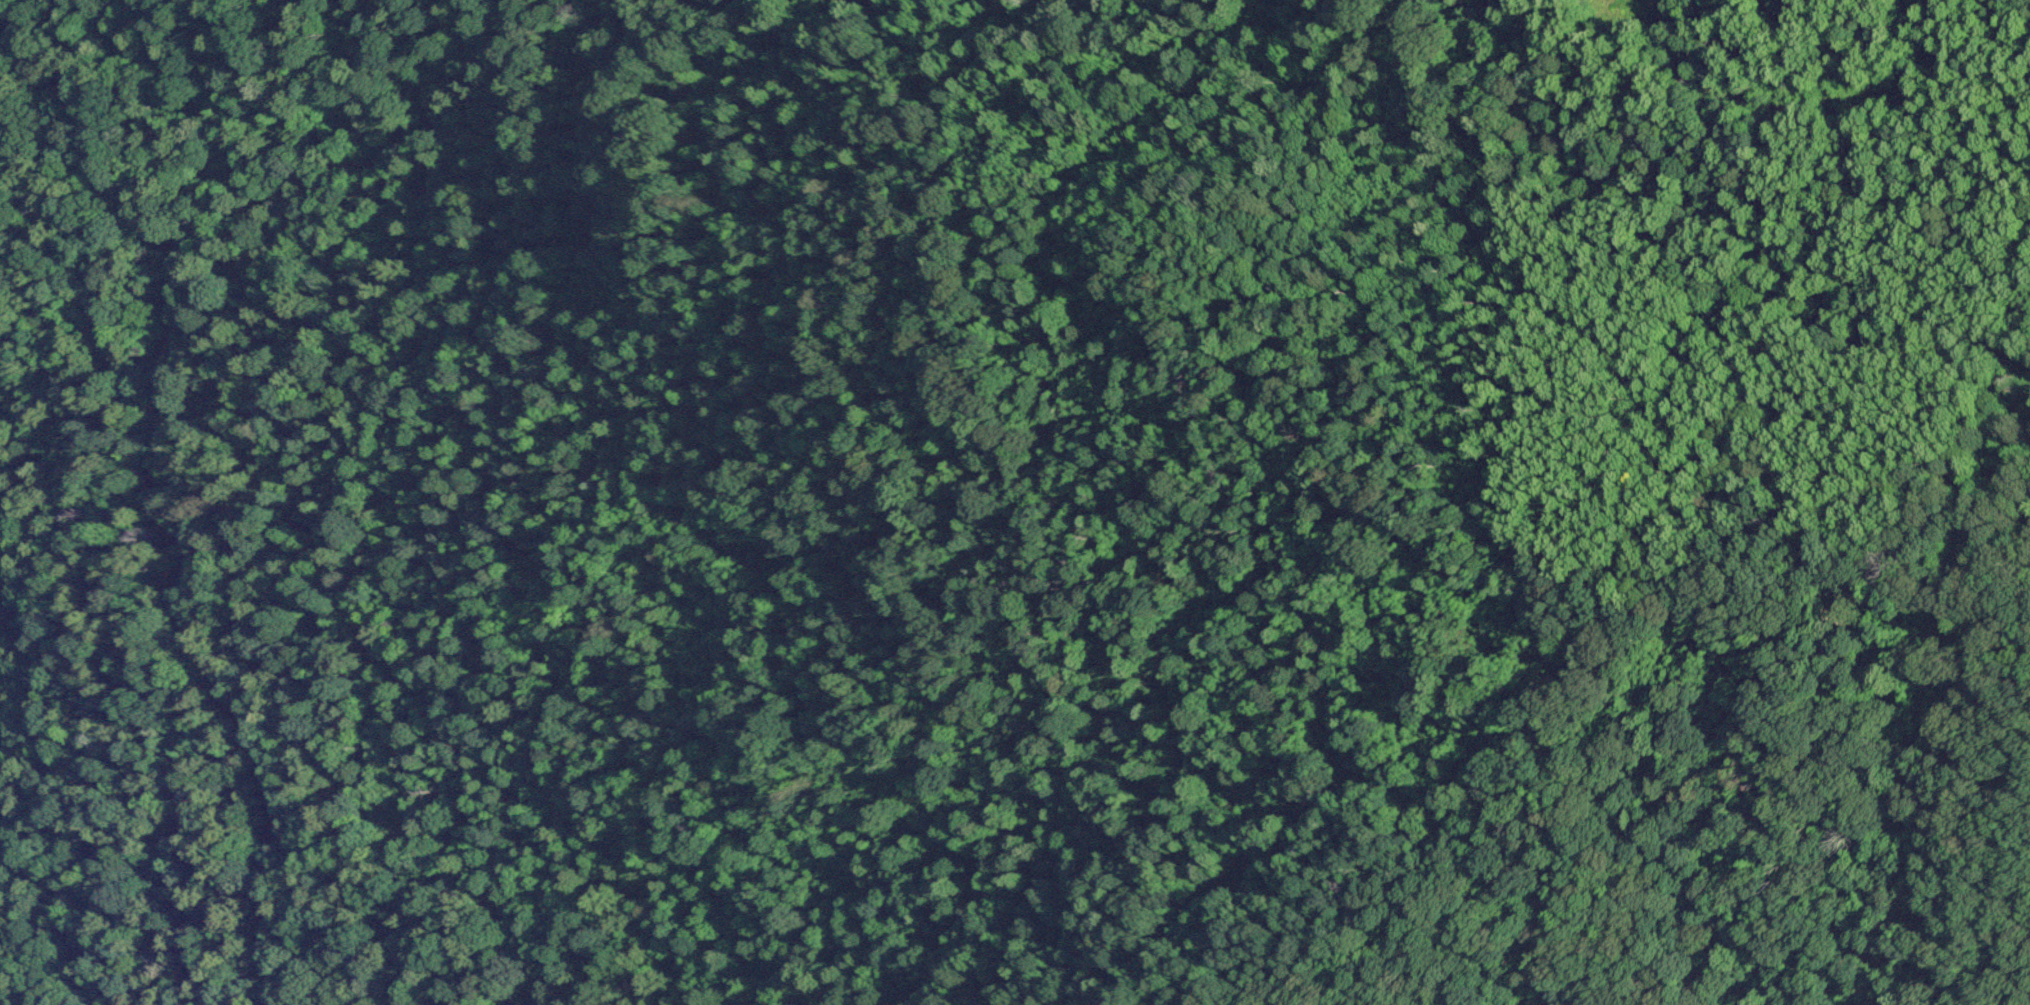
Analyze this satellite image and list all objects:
road: (211, 484)

